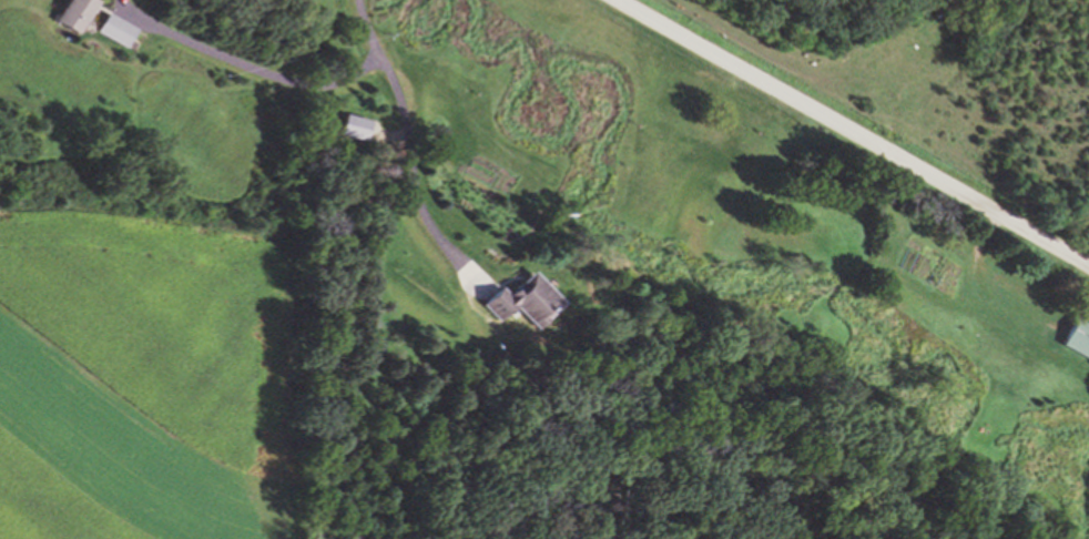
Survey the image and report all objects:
building: (75, 13)
building: (116, 30)
road: (365, 30)
road: (368, 67)
road: (848, 133)
building: (527, 299)
building: (1078, 338)

